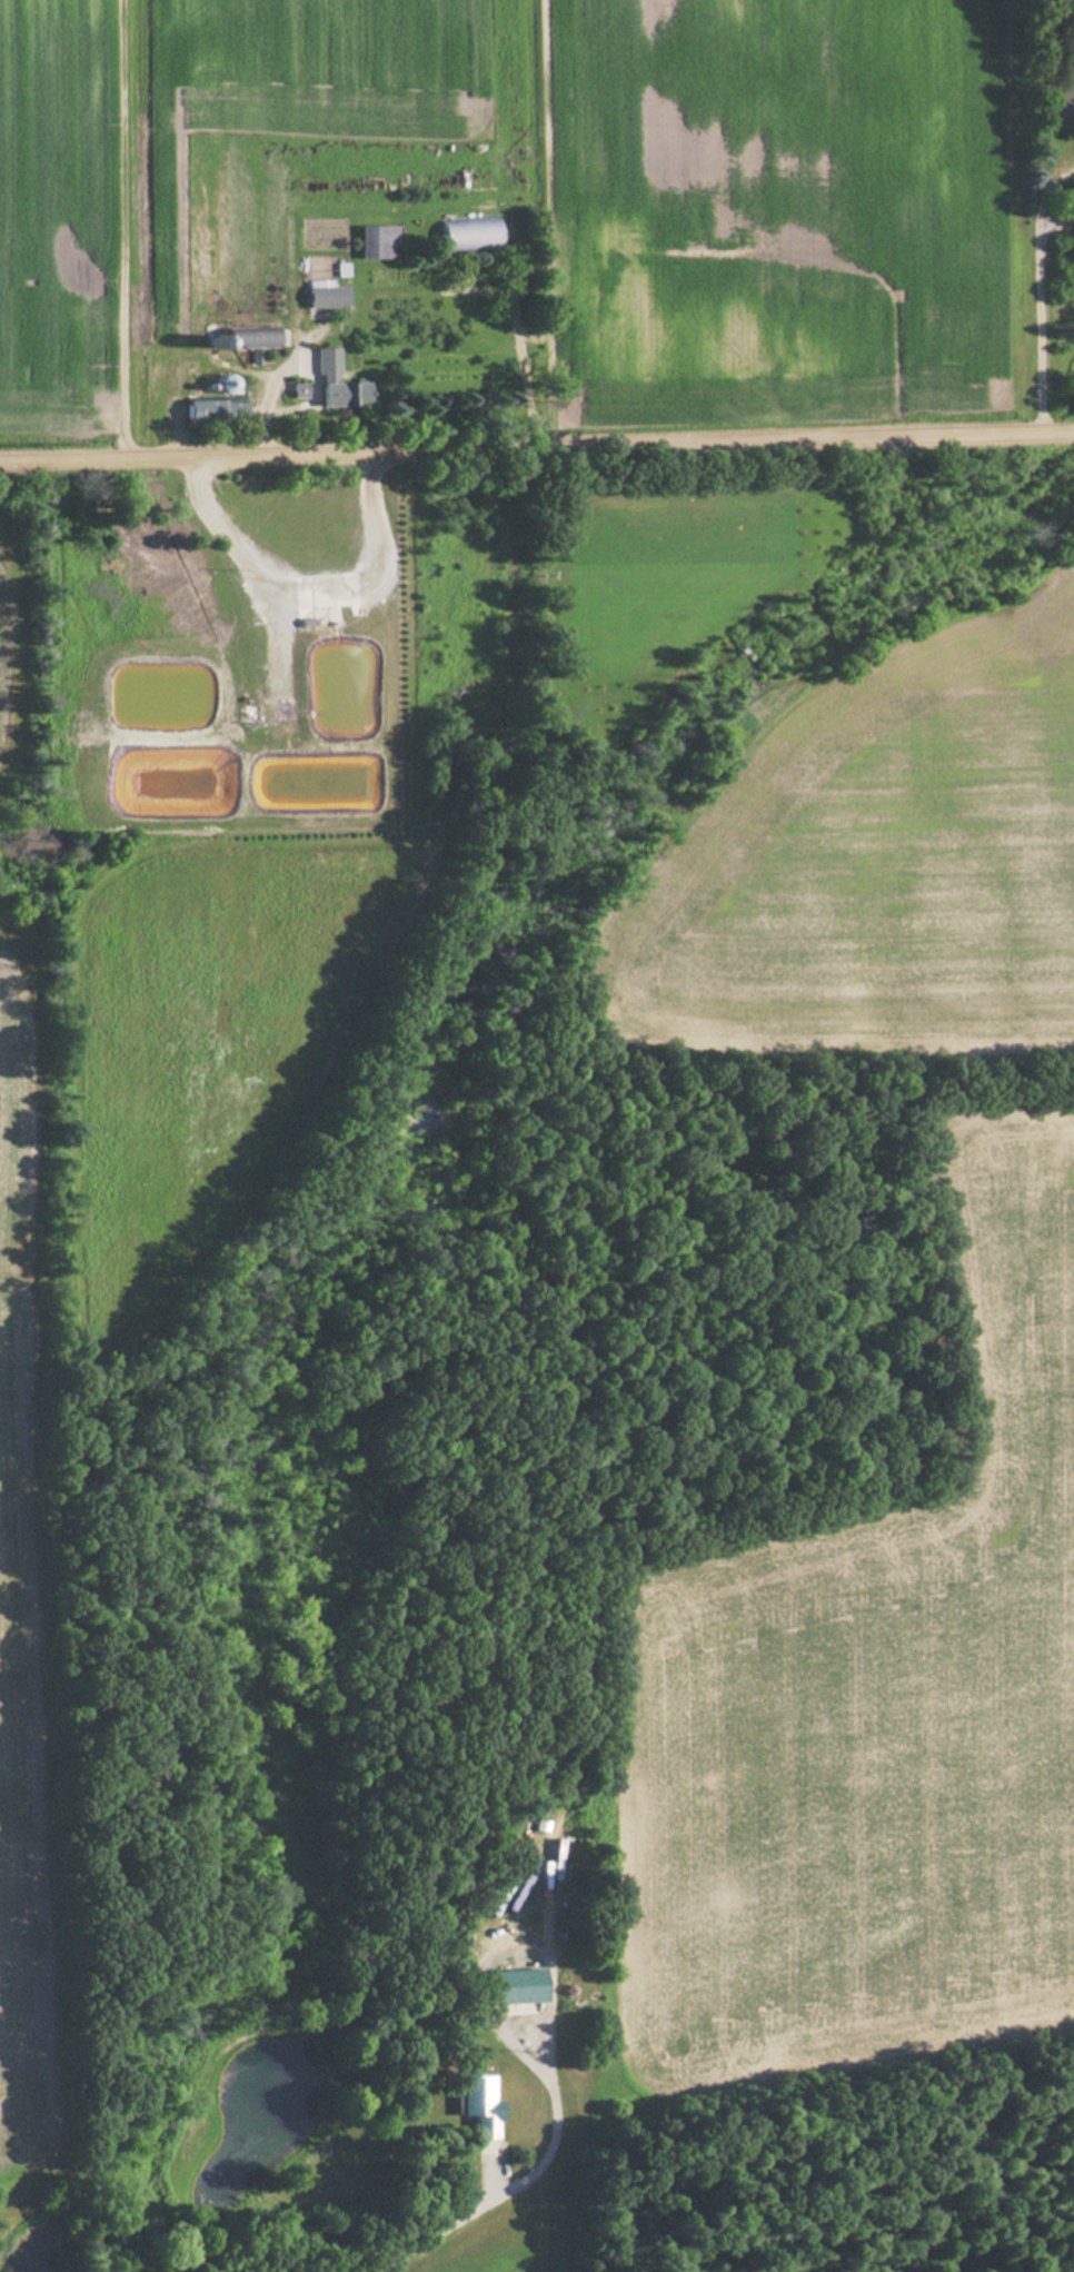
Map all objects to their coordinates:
building: (1061, 103)
building: (469, 235)
building: (376, 241)
building: (326, 295)
building: (251, 339)
building: (337, 384)
building: (215, 410)
road: (536, 443)
building: (517, 1986)
building: (480, 2102)

